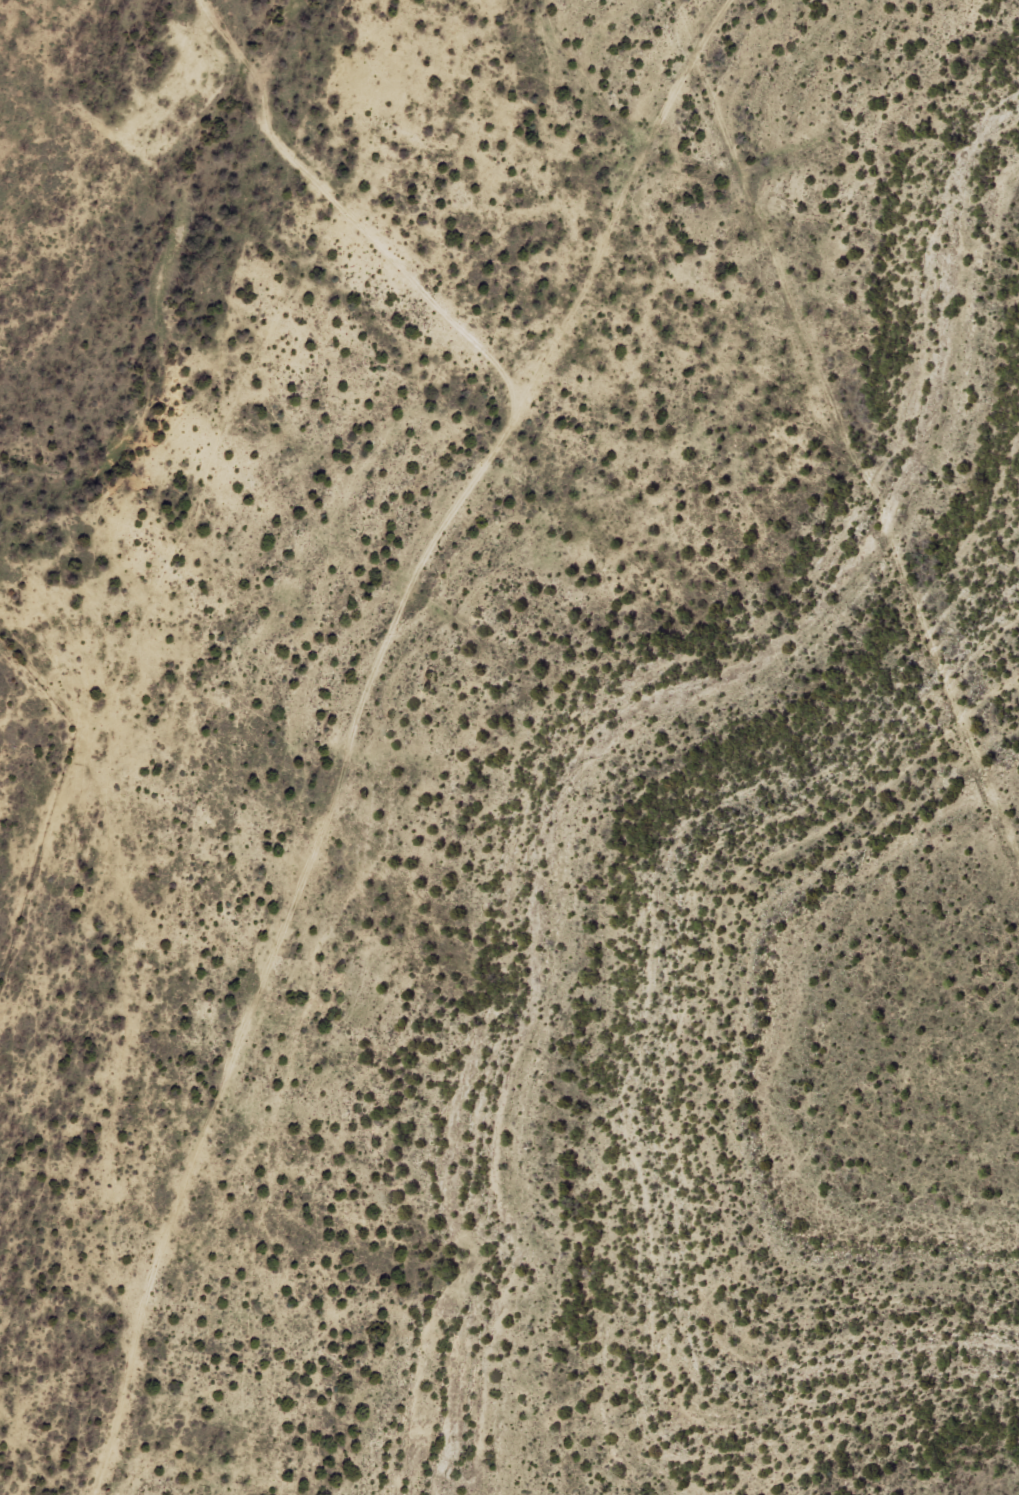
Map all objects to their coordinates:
road: (386, 702)

